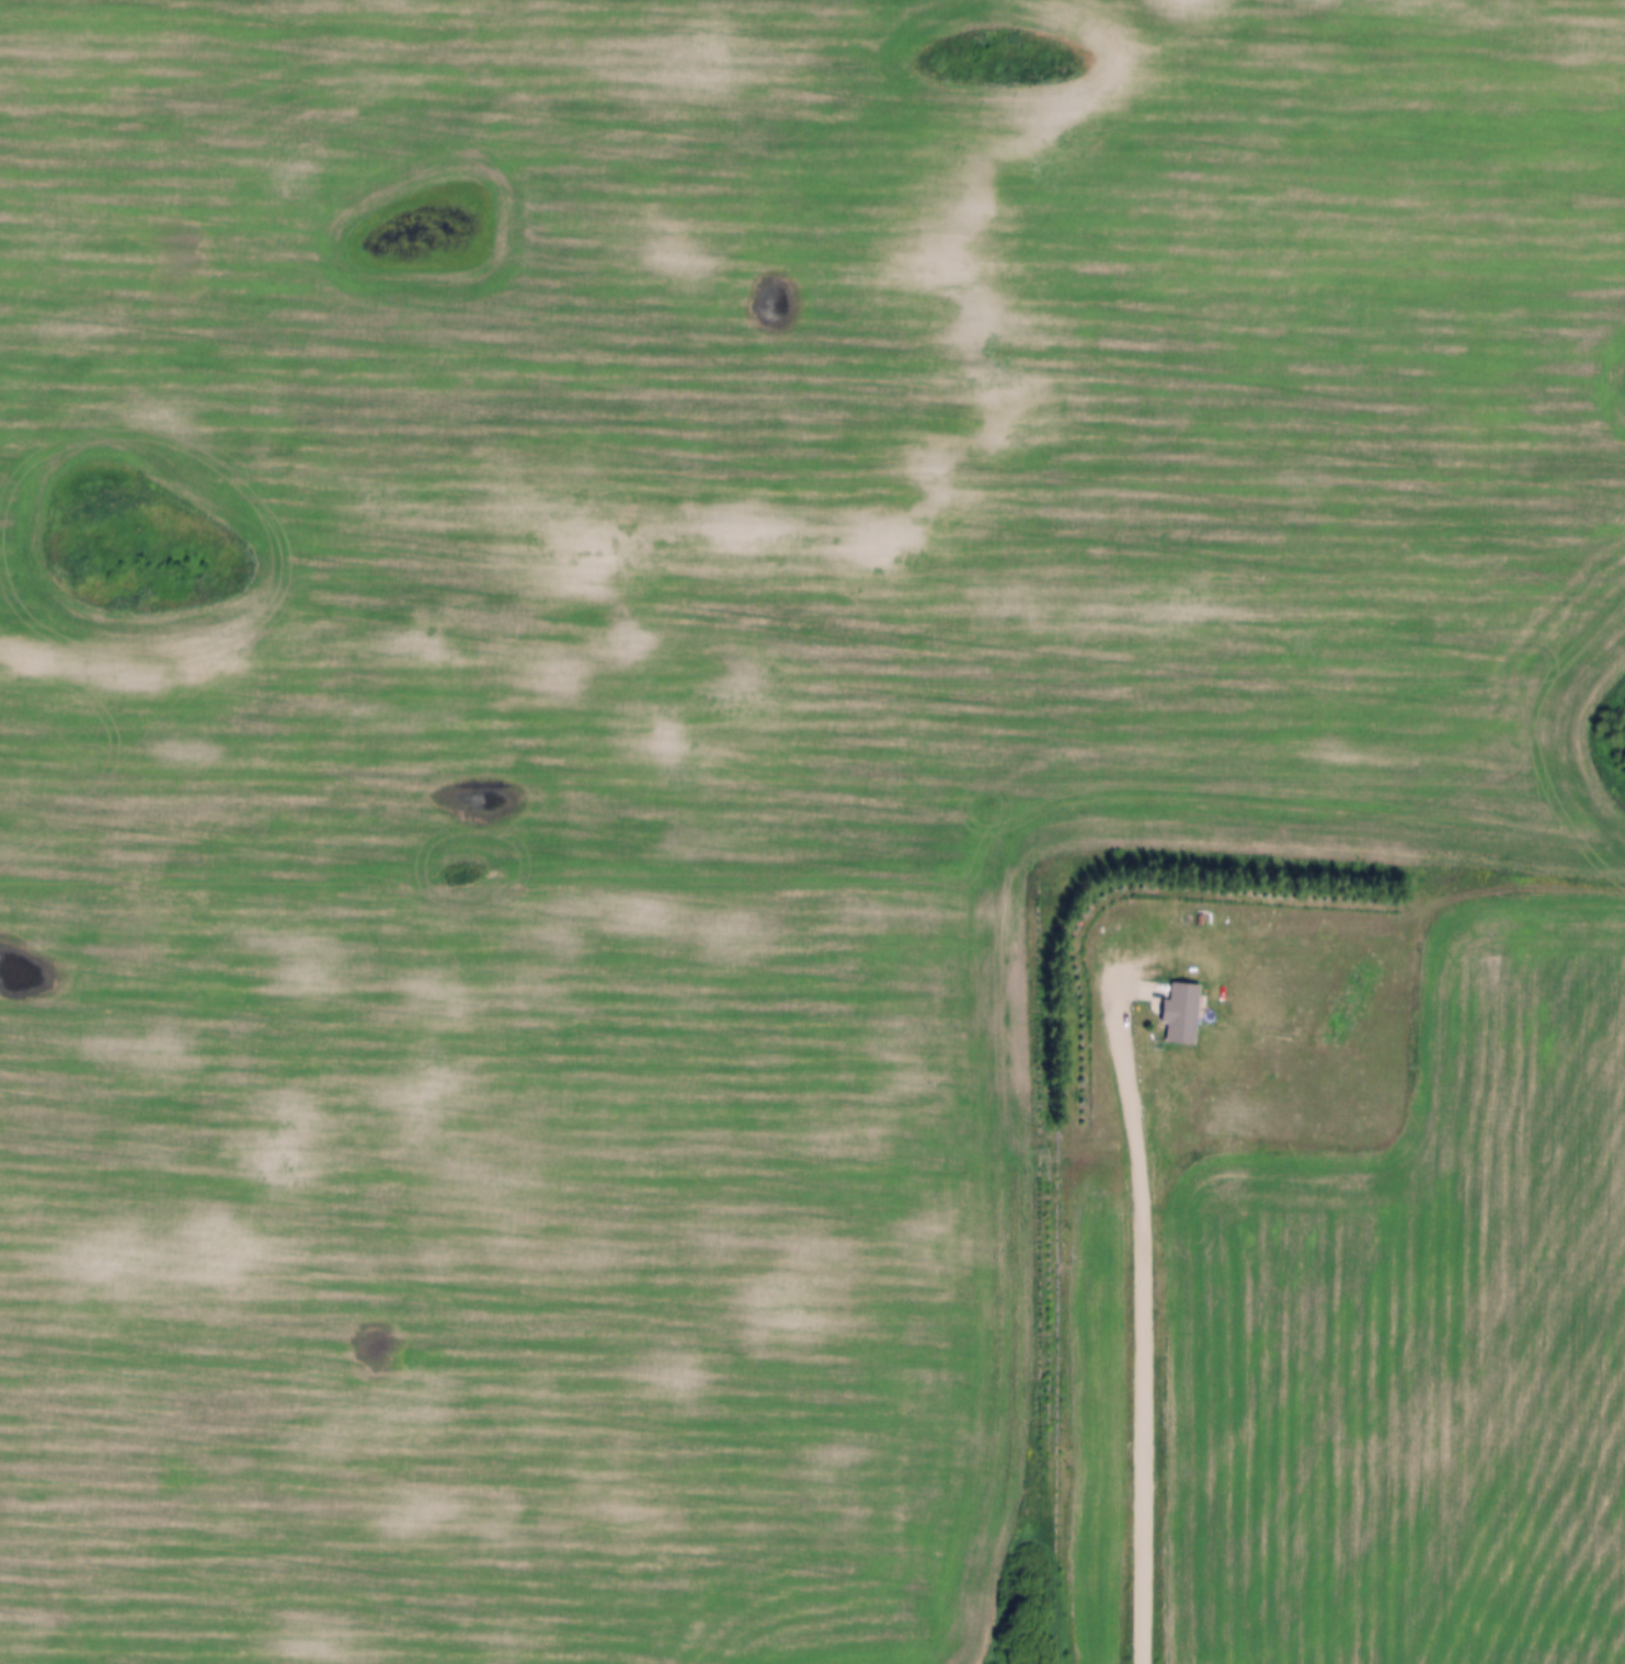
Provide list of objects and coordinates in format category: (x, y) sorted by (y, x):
building: (1167, 1003)
road: (1134, 1321)

